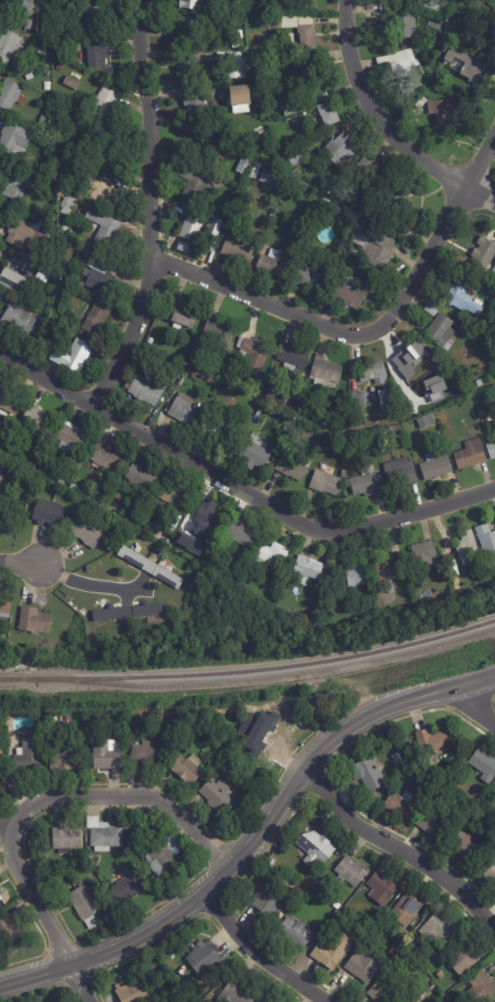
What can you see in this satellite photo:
building: (449, 0)
building: (5, 4)
building: (189, 4)
building: (300, 4)
building: (27, 7)
building: (270, 7)
building: (435, 7)
building: (95, 19)
building: (28, 24)
building: (489, 24)
building: (435, 25)
building: (406, 26)
building: (182, 29)
building: (307, 33)
building: (435, 36)
building: (290, 38)
building: (421, 39)
building: (49, 43)
building: (9, 46)
building: (236, 46)
building: (430, 46)
building: (56, 48)
building: (458, 51)
building: (42, 53)
building: (97, 54)
building: (233, 65)
building: (59, 67)
building: (189, 68)
building: (408, 71)
building: (306, 73)
building: (472, 74)
building: (71, 84)
building: (10, 95)
building: (241, 97)
building: (421, 103)
building: (104, 104)
building: (195, 107)
building: (290, 111)
road: (372, 113)
building: (445, 113)
building: (328, 115)
building: (45, 120)
building: (58, 123)
building: (14, 138)
building: (104, 147)
building: (343, 149)
building: (218, 150)
building: (43, 157)
building: (295, 157)
building: (116, 165)
building: (243, 166)
building: (255, 171)
building: (370, 172)
building: (270, 179)
building: (194, 184)
building: (12, 187)
building: (110, 193)
road: (479, 196)
building: (401, 201)
building: (411, 202)
building: (66, 206)
road: (148, 208)
building: (230, 209)
building: (192, 227)
building: (225, 227)
building: (104, 230)
building: (214, 232)
road: (436, 233)
building: (301, 234)
building: (26, 238)
building: (183, 248)
building: (374, 249)
building: (54, 250)
building: (238, 251)
building: (483, 255)
building: (274, 265)
building: (342, 269)
building: (94, 274)
building: (16, 277)
building: (42, 277)
building: (310, 279)
building: (347, 293)
building: (463, 299)
road: (261, 303)
building: (69, 311)
building: (431, 311)
building: (181, 316)
building: (96, 319)
building: (18, 321)
building: (460, 330)
building: (219, 331)
building: (443, 333)
building: (150, 341)
building: (72, 356)
building: (253, 356)
building: (408, 357)
building: (293, 359)
building: (326, 373)
building: (374, 373)
building: (194, 375)
building: (479, 383)
building: (260, 386)
building: (242, 387)
building: (146, 392)
building: (486, 396)
building: (276, 397)
building: (359, 402)
building: (387, 402)
building: (8, 405)
building: (220, 406)
building: (185, 412)
building: (322, 418)
building: (38, 422)
building: (425, 422)
building: (287, 423)
building: (1, 425)
building: (221, 432)
building: (391, 433)
building: (72, 438)
road: (164, 445)
building: (351, 447)
building: (491, 451)
building: (254, 453)
building: (470, 456)
building: (105, 459)
building: (436, 466)
building: (294, 468)
building: (1, 471)
building: (400, 475)
building: (142, 478)
building: (61, 484)
building: (326, 484)
building: (365, 484)
building: (174, 498)
building: (95, 502)
building: (49, 514)
building: (205, 516)
road: (412, 516)
building: (8, 517)
building: (1, 518)
building: (87, 533)
building: (240, 535)
building: (486, 540)
building: (466, 547)
building: (138, 549)
building: (190, 554)
building: (424, 555)
building: (272, 558)
road: (18, 564)
building: (150, 568)
building: (310, 570)
building: (385, 574)
building: (358, 575)
building: (276, 583)
road: (88, 584)
building: (5, 603)
building: (128, 613)
building: (35, 620)
building: (110, 624)
railway: (250, 670)
road: (473, 677)
railway: (267, 679)
road: (472, 706)
road: (369, 713)
building: (259, 734)
building: (433, 741)
building: (28, 752)
building: (396, 752)
building: (106, 754)
building: (146, 754)
building: (1, 757)
building: (67, 758)
building: (484, 764)
building: (187, 769)
building: (369, 772)
building: (400, 778)
building: (455, 784)
building: (494, 792)
building: (217, 796)
building: (432, 796)
building: (449, 796)
road: (122, 797)
building: (402, 804)
building: (469, 811)
building: (435, 825)
road: (2, 831)
building: (104, 835)
building: (66, 840)
building: (134, 840)
building: (466, 844)
building: (315, 846)
road: (398, 851)
building: (164, 857)
building: (272, 861)
building: (488, 869)
building: (350, 871)
building: (133, 885)
building: (380, 887)
building: (298, 889)
building: (304, 895)
building: (1, 898)
road: (36, 899)
building: (270, 899)
building: (0, 900)
building: (337, 904)
building: (85, 905)
building: (407, 907)
road: (176, 911)
building: (371, 923)
building: (440, 925)
building: (380, 928)
building: (297, 931)
building: (8, 932)
building: (335, 945)
road: (261, 953)
building: (462, 956)
building: (204, 957)
building: (363, 965)
building: (184, 970)
building: (440, 974)
road: (78, 983)
building: (481, 987)
building: (133, 991)
building: (235, 991)
building: (384, 992)
building: (269, 999)

